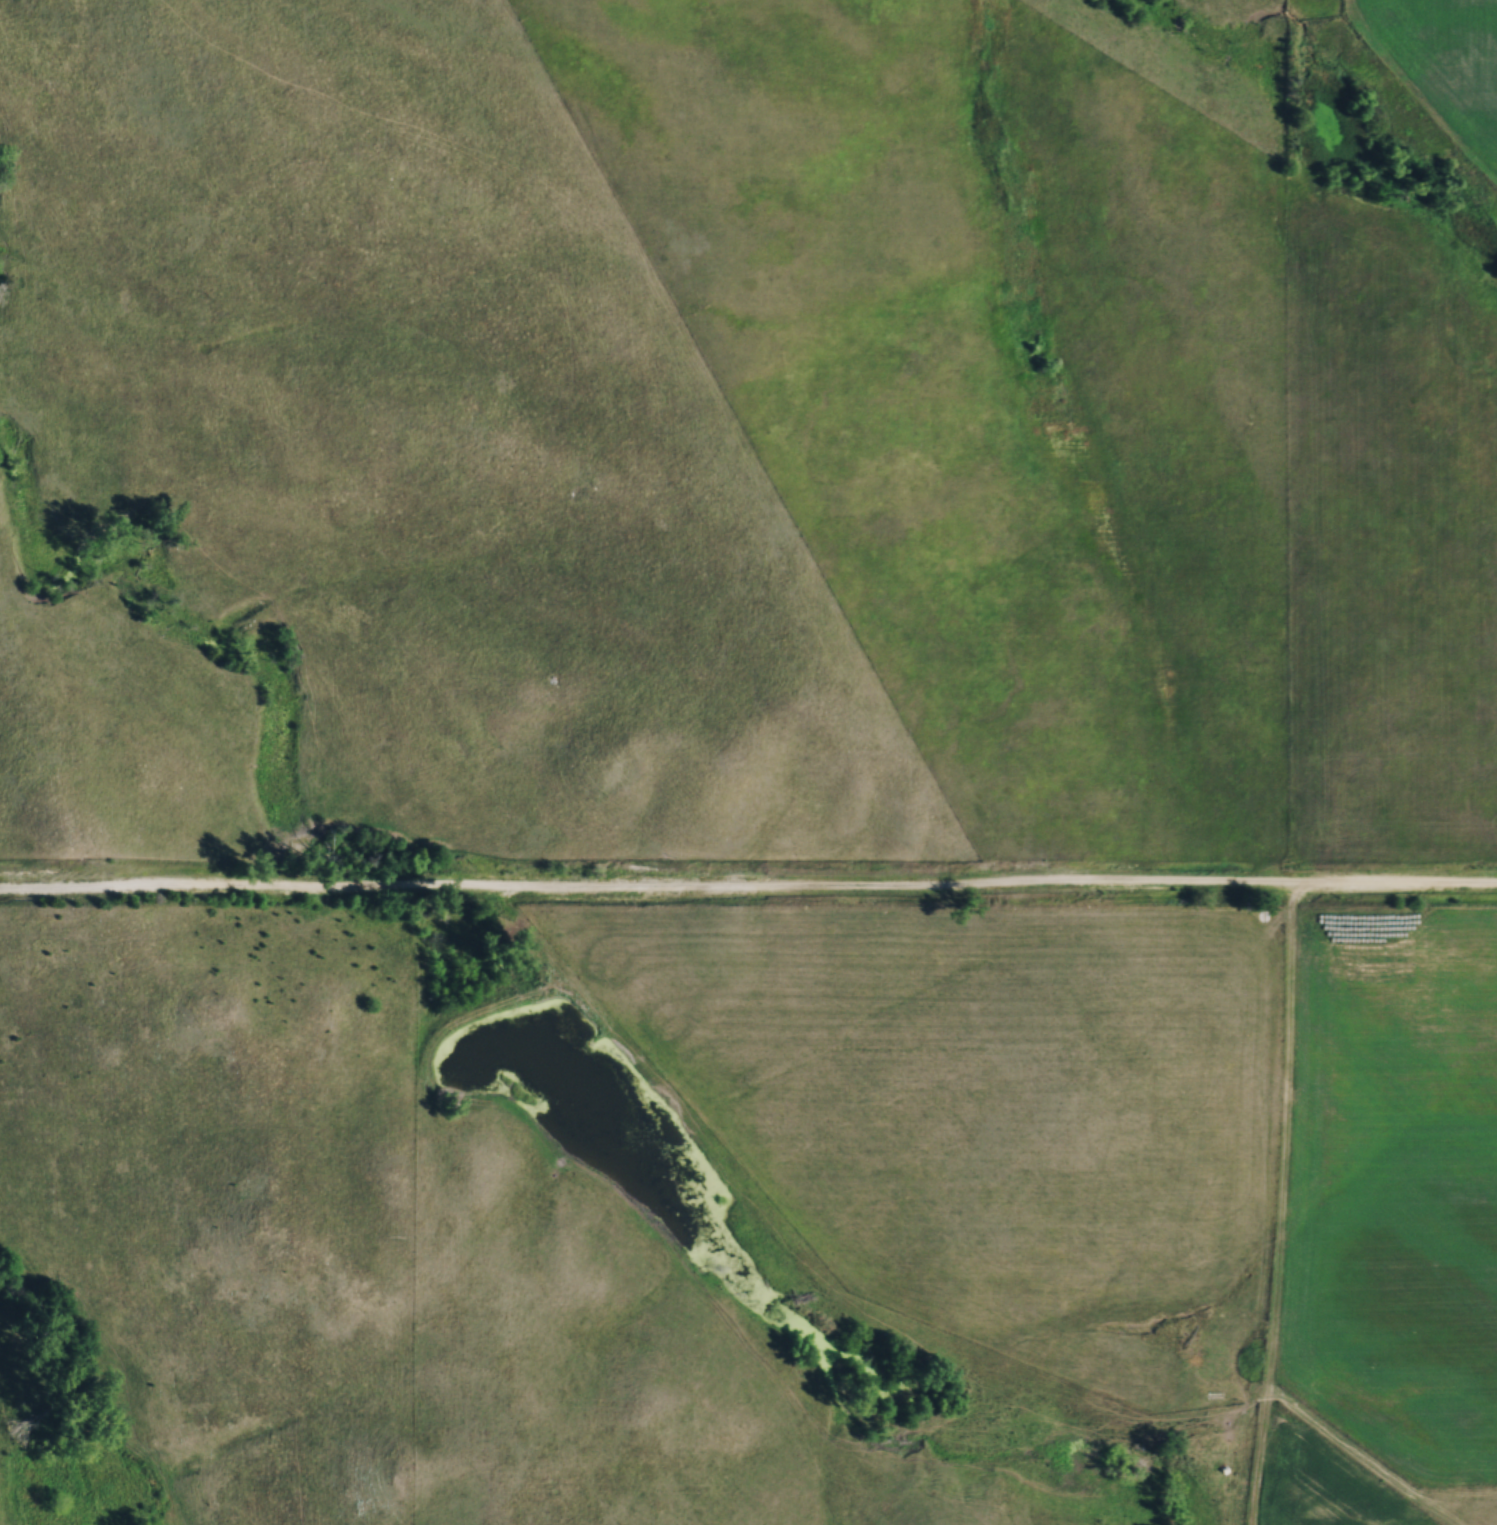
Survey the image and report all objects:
road: (748, 890)

